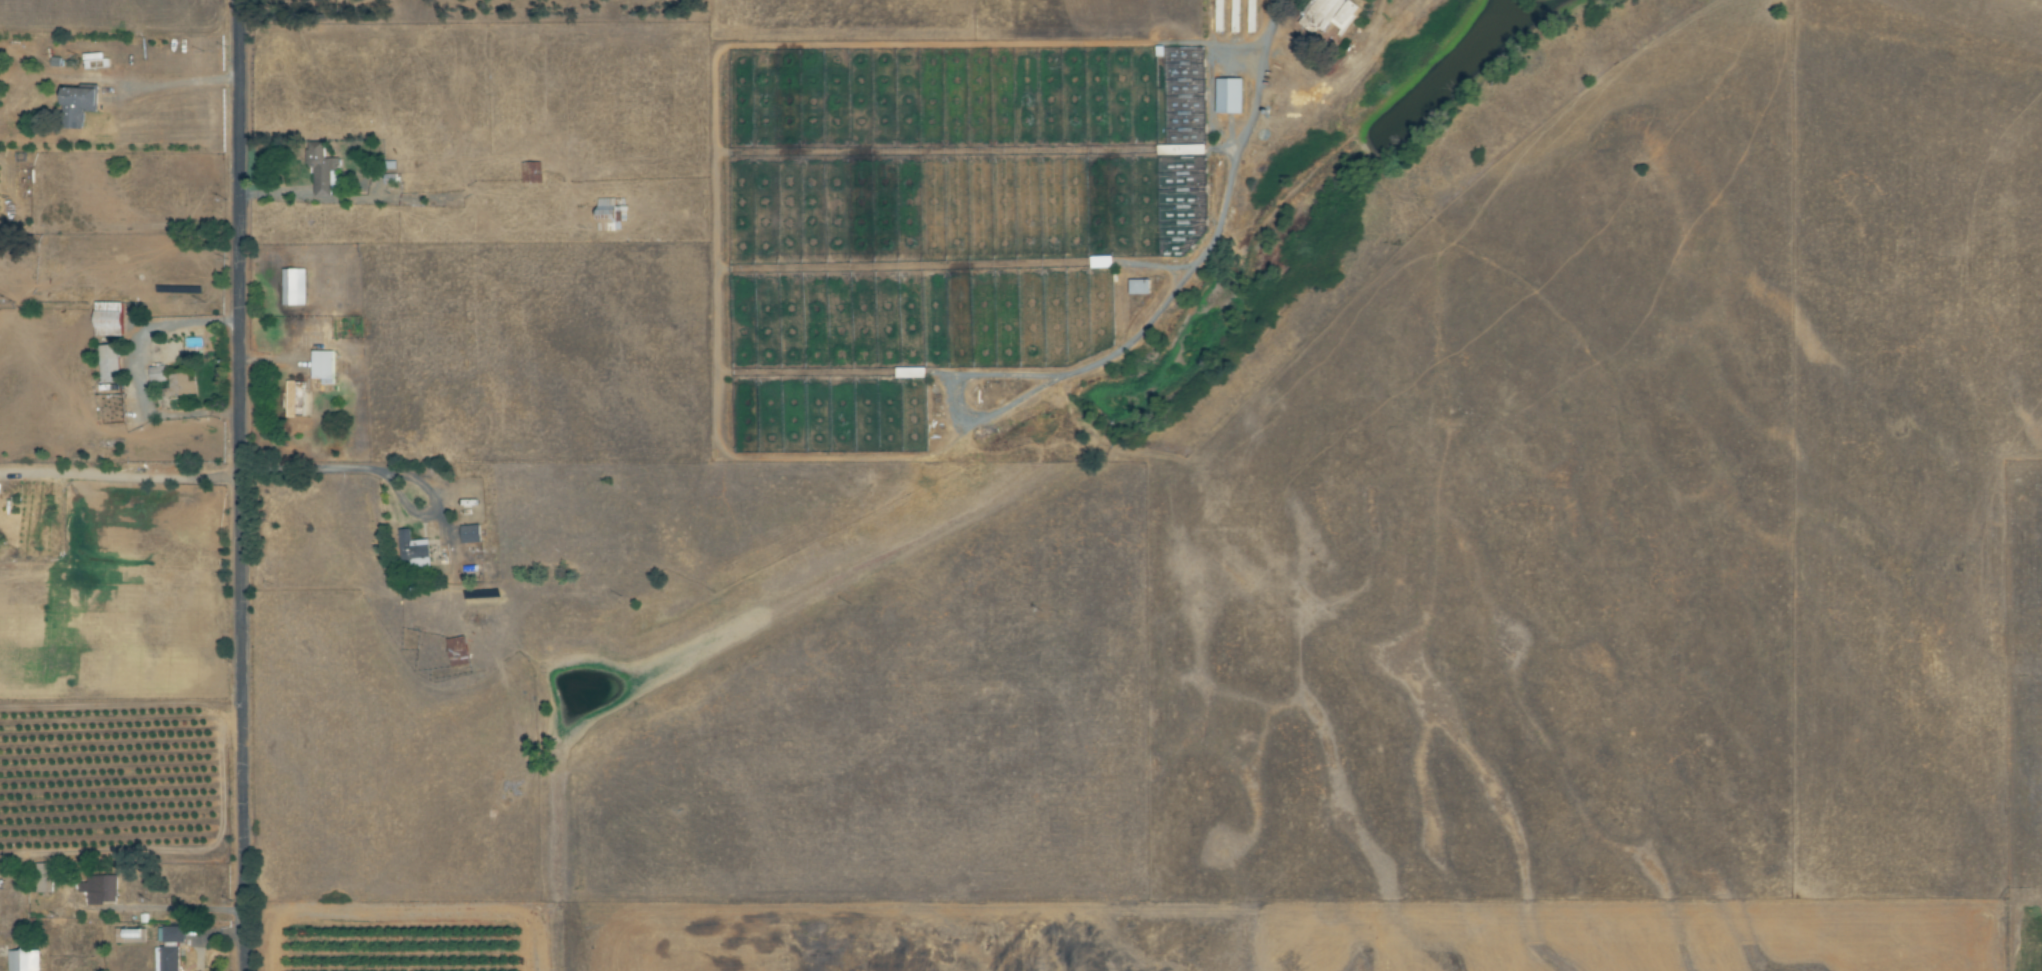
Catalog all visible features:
building: (1330, 13)
road: (176, 84)
building: (1229, 96)
building: (78, 106)
building: (322, 171)
building: (531, 173)
building: (610, 215)
building: (1139, 287)
building: (293, 288)
building: (108, 319)
building: (109, 364)
building: (323, 367)
building: (910, 373)
building: (157, 375)
building: (180, 387)
building: (296, 400)
road: (385, 468)
road: (117, 476)
road: (235, 485)
building: (470, 534)
building: (413, 550)
building: (458, 652)
building: (43, 877)
building: (99, 888)
building: (128, 934)
building: (173, 934)
building: (23, 960)
building: (165, 960)

